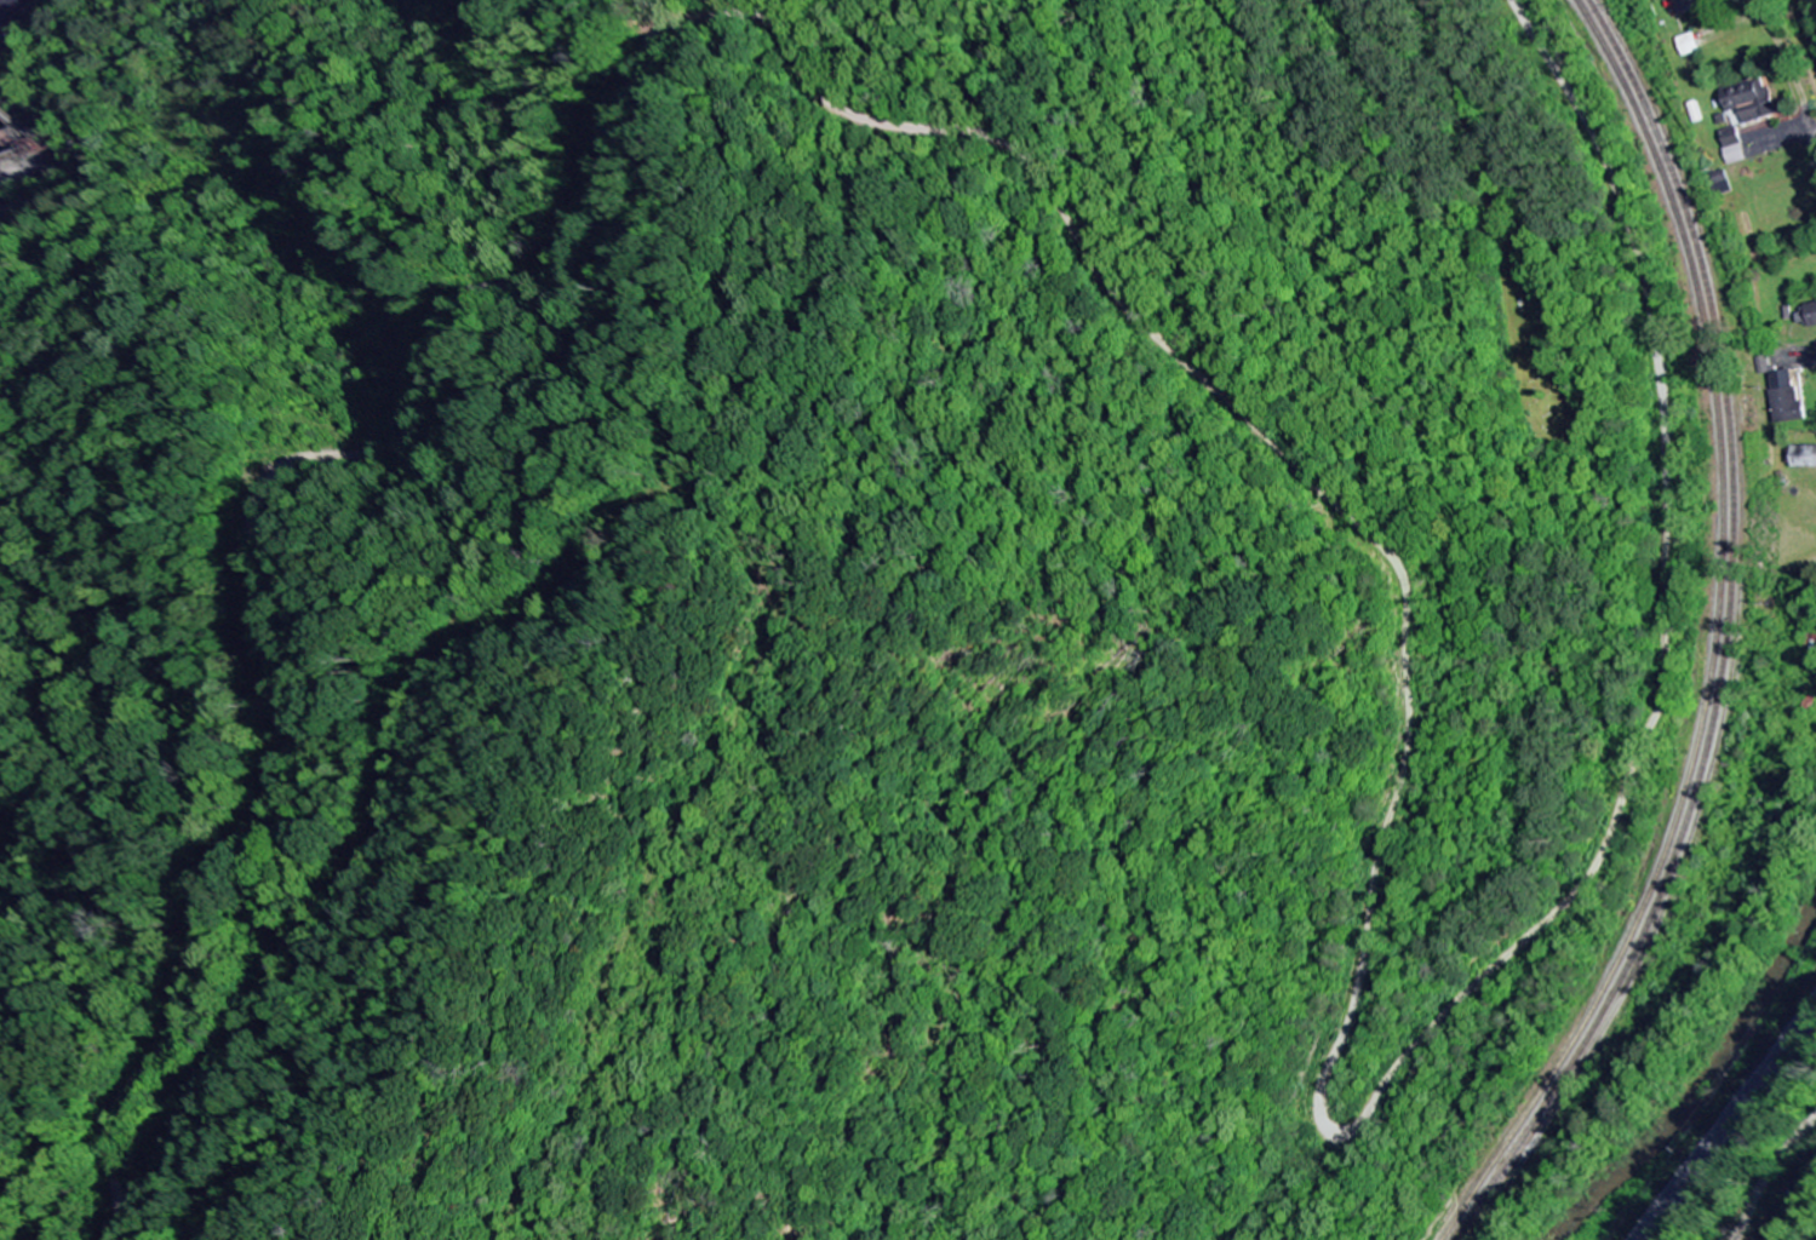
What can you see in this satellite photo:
building: (1685, 6)
building: (1749, 102)
building: (1731, 147)
road: (1814, 150)
building: (1806, 316)
building: (1787, 397)
building: (1803, 458)
railway: (1715, 638)
road: (1725, 1121)
road: (1769, 1176)

